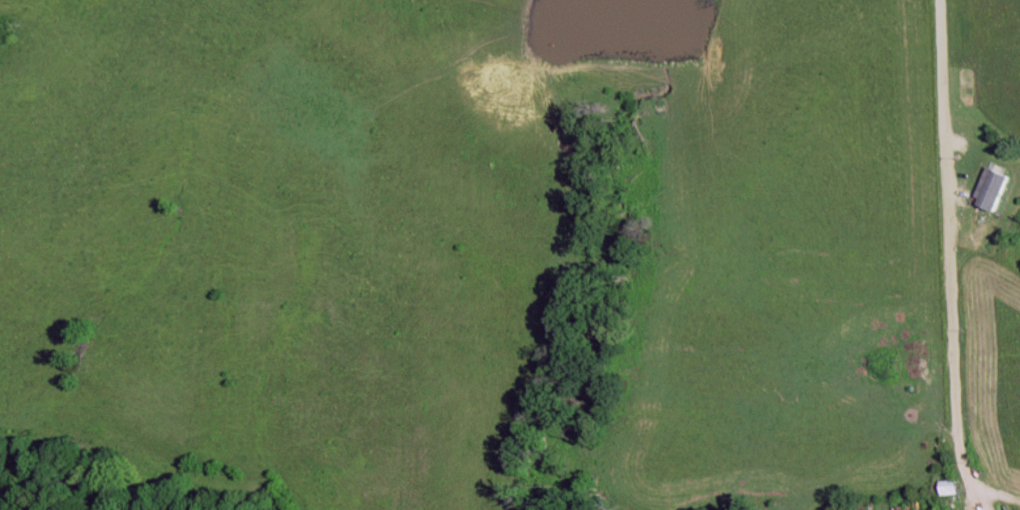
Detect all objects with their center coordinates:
building: (990, 190)
building: (947, 488)

